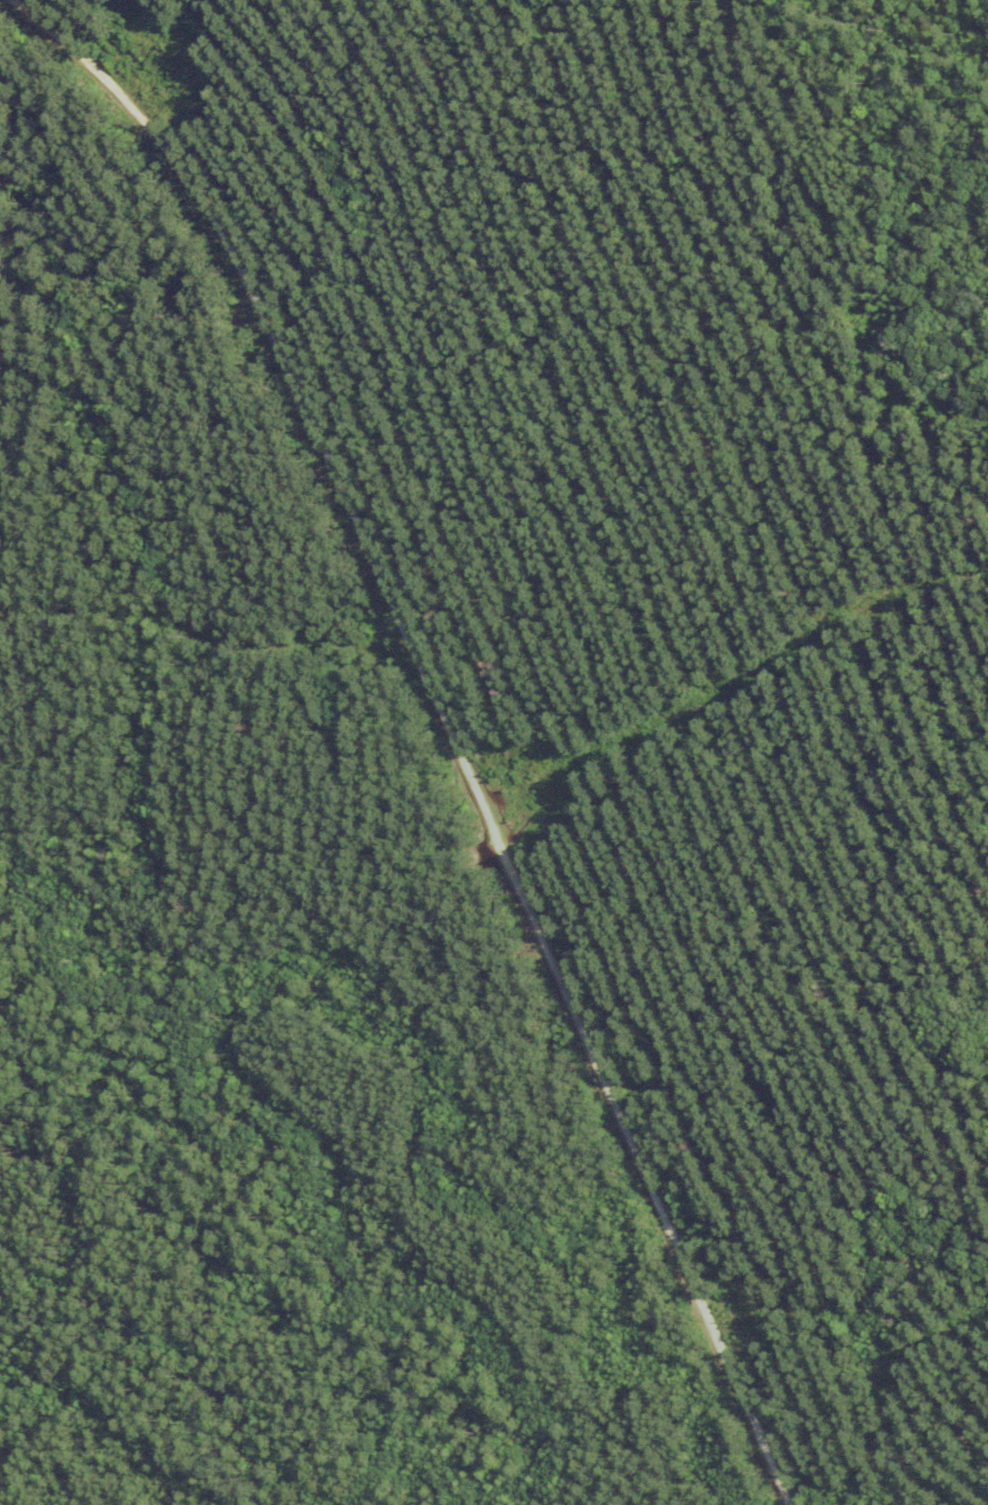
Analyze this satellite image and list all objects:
road: (443, 725)

